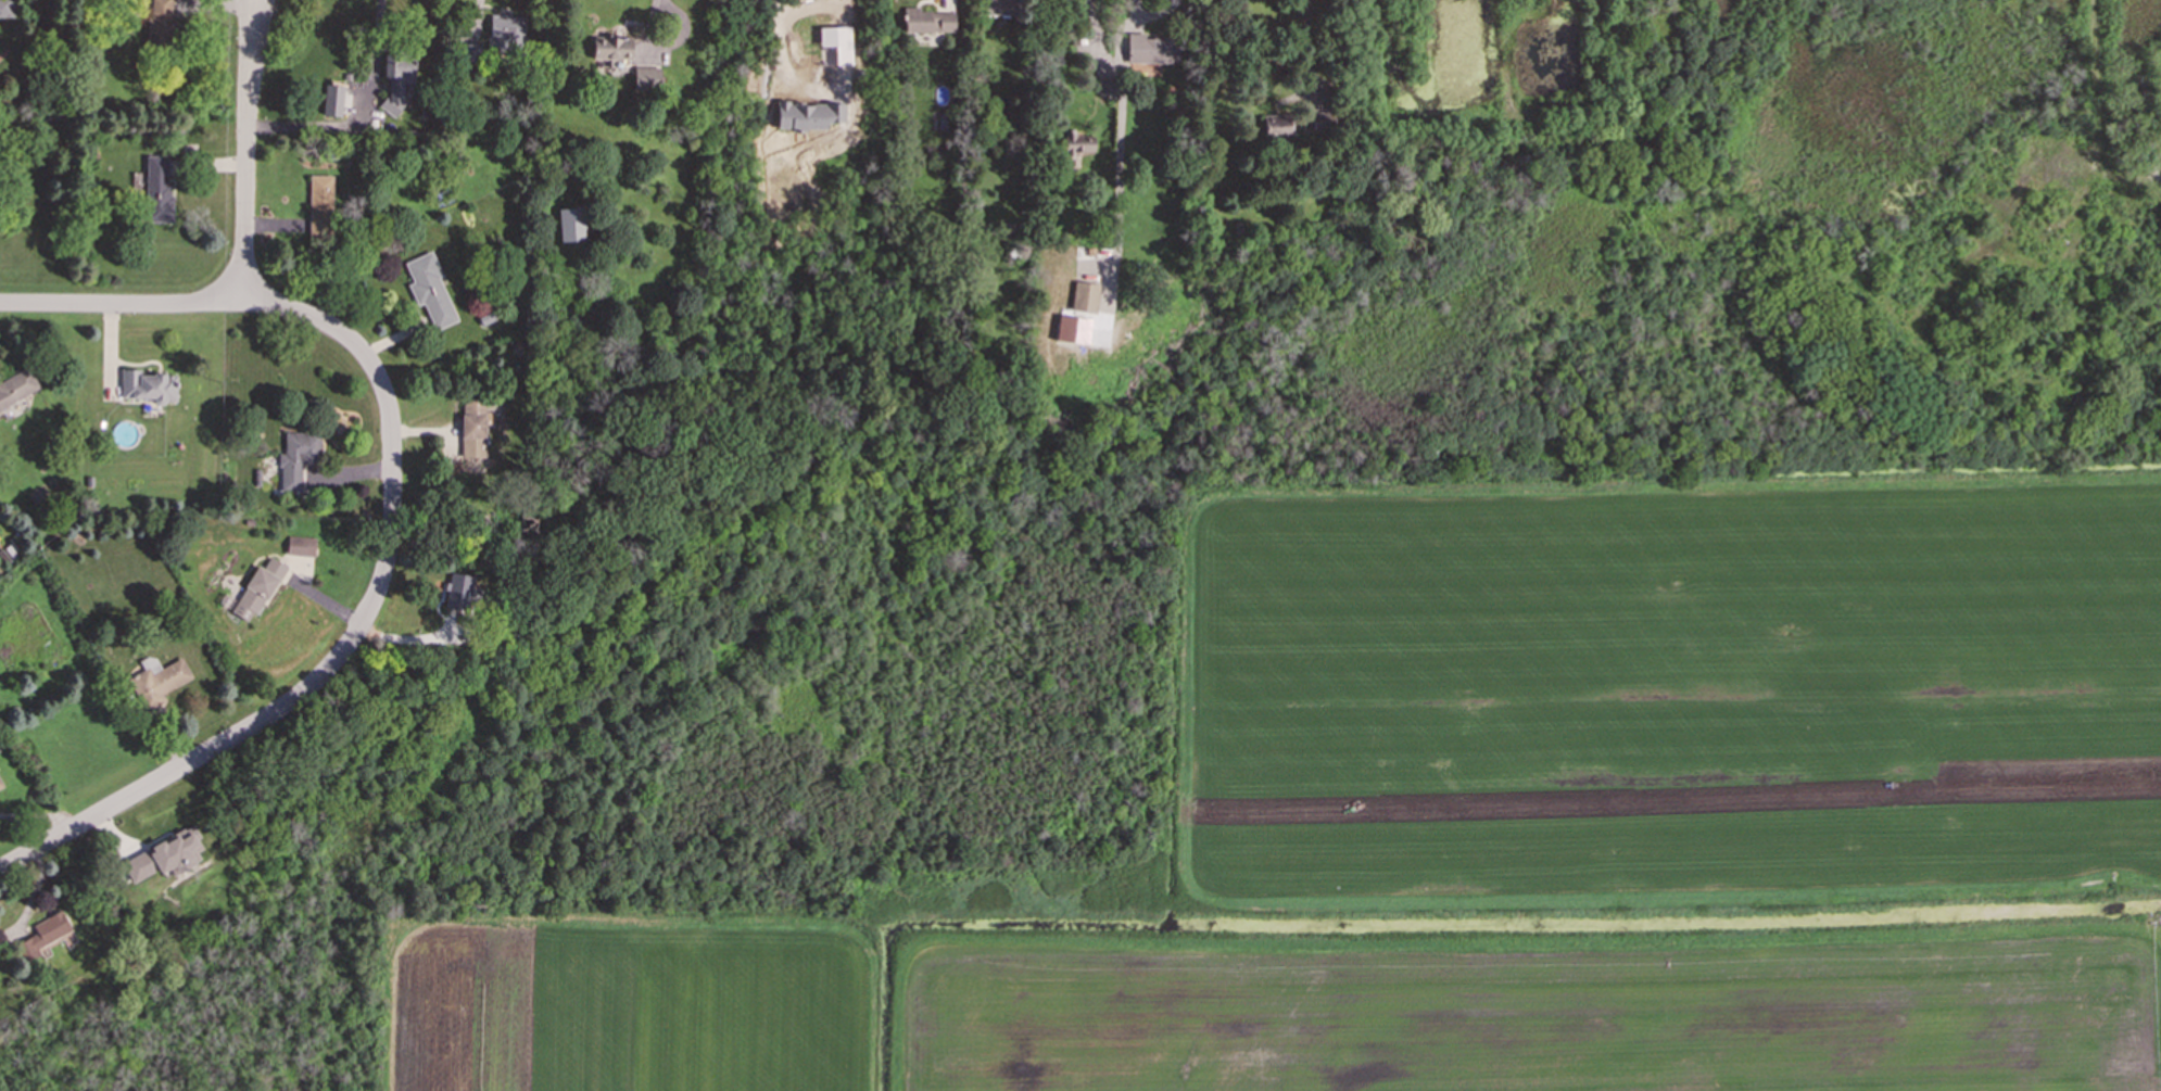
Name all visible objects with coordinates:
building: (1000, 7)
building: (5, 10)
road: (655, 12)
building: (926, 21)
building: (161, 22)
road: (1132, 24)
building: (498, 31)
road: (247, 33)
road: (257, 33)
building: (611, 47)
road: (1309, 47)
building: (1152, 49)
building: (470, 51)
building: (396, 77)
building: (647, 77)
building: (1103, 88)
building: (332, 100)
building: (808, 115)
road: (1122, 119)
building: (1319, 120)
road: (305, 127)
building: (1276, 128)
building: (1075, 147)
road: (242, 180)
building: (157, 188)
building: (319, 211)
building: (570, 224)
building: (429, 289)
building: (1084, 296)
road: (121, 306)
building: (147, 385)
building: (16, 389)
road: (388, 415)
building: (476, 426)
building: (296, 459)
building: (301, 546)
building: (256, 589)
building: (458, 591)
building: (157, 681)
road: (198, 759)
building: (0, 785)
crop: (1491, 826)
building: (164, 855)
building: (43, 936)

